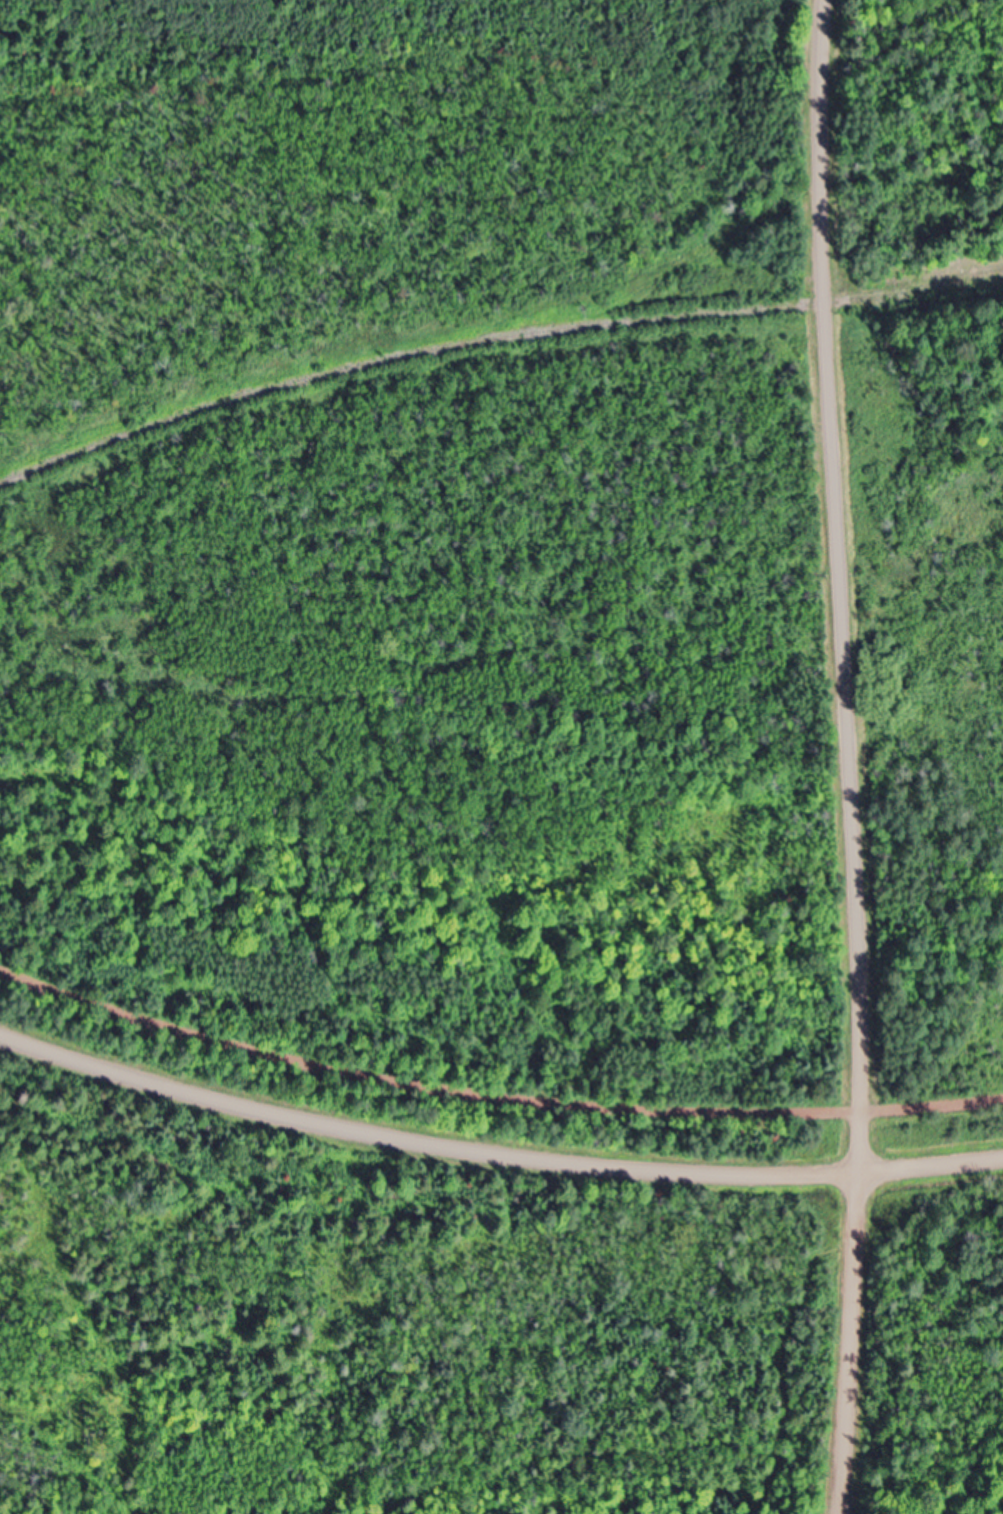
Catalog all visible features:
railway: (491, 342)
road: (852, 756)
road: (493, 1101)
road: (422, 1142)
road: (930, 1168)

